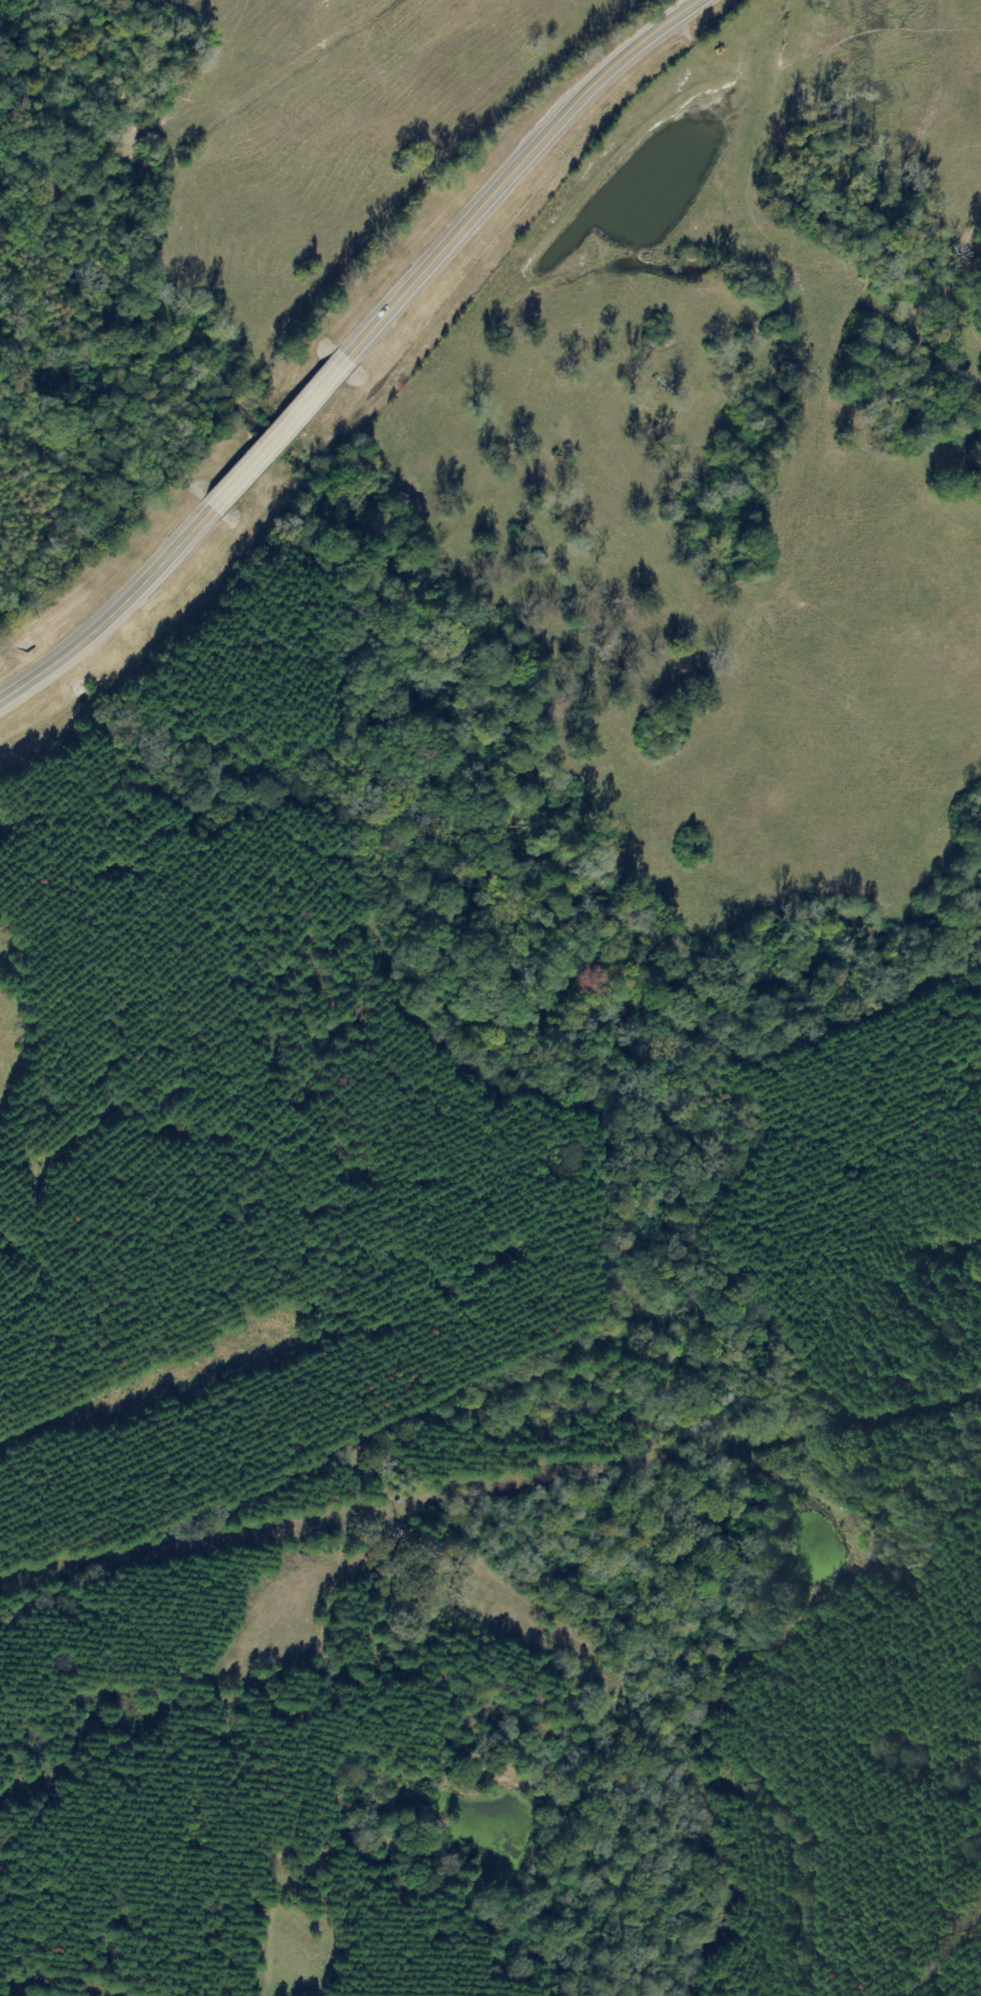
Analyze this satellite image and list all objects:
road: (513, 170)
road: (275, 433)
road: (114, 617)

